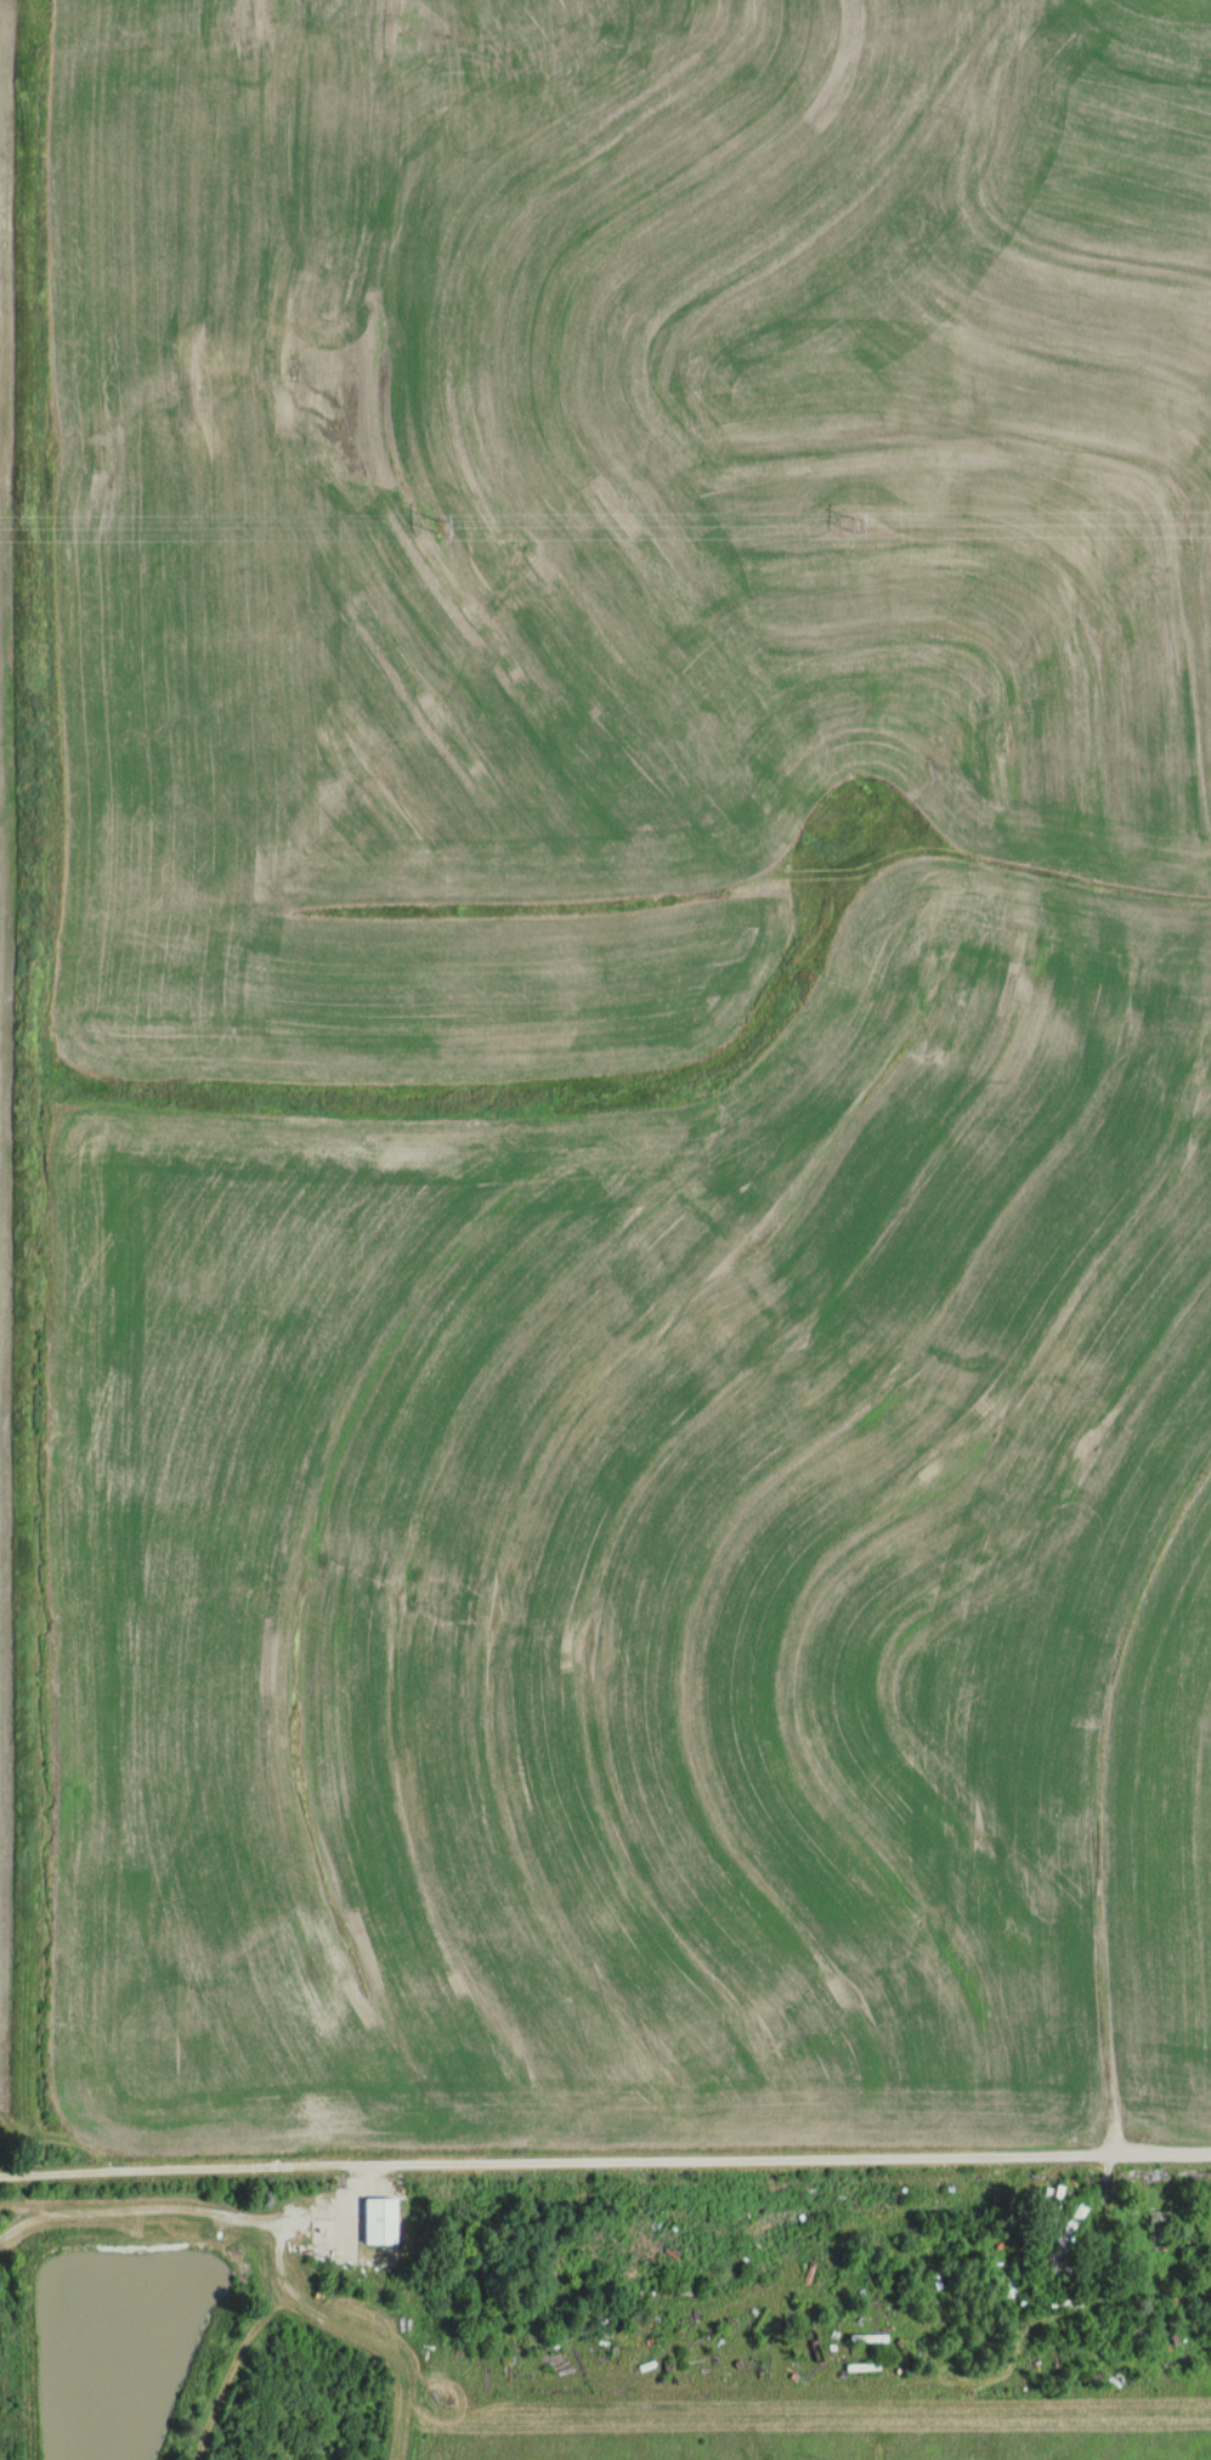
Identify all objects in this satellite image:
road: (605, 2160)
building: (383, 2218)
building: (1160, 2222)

